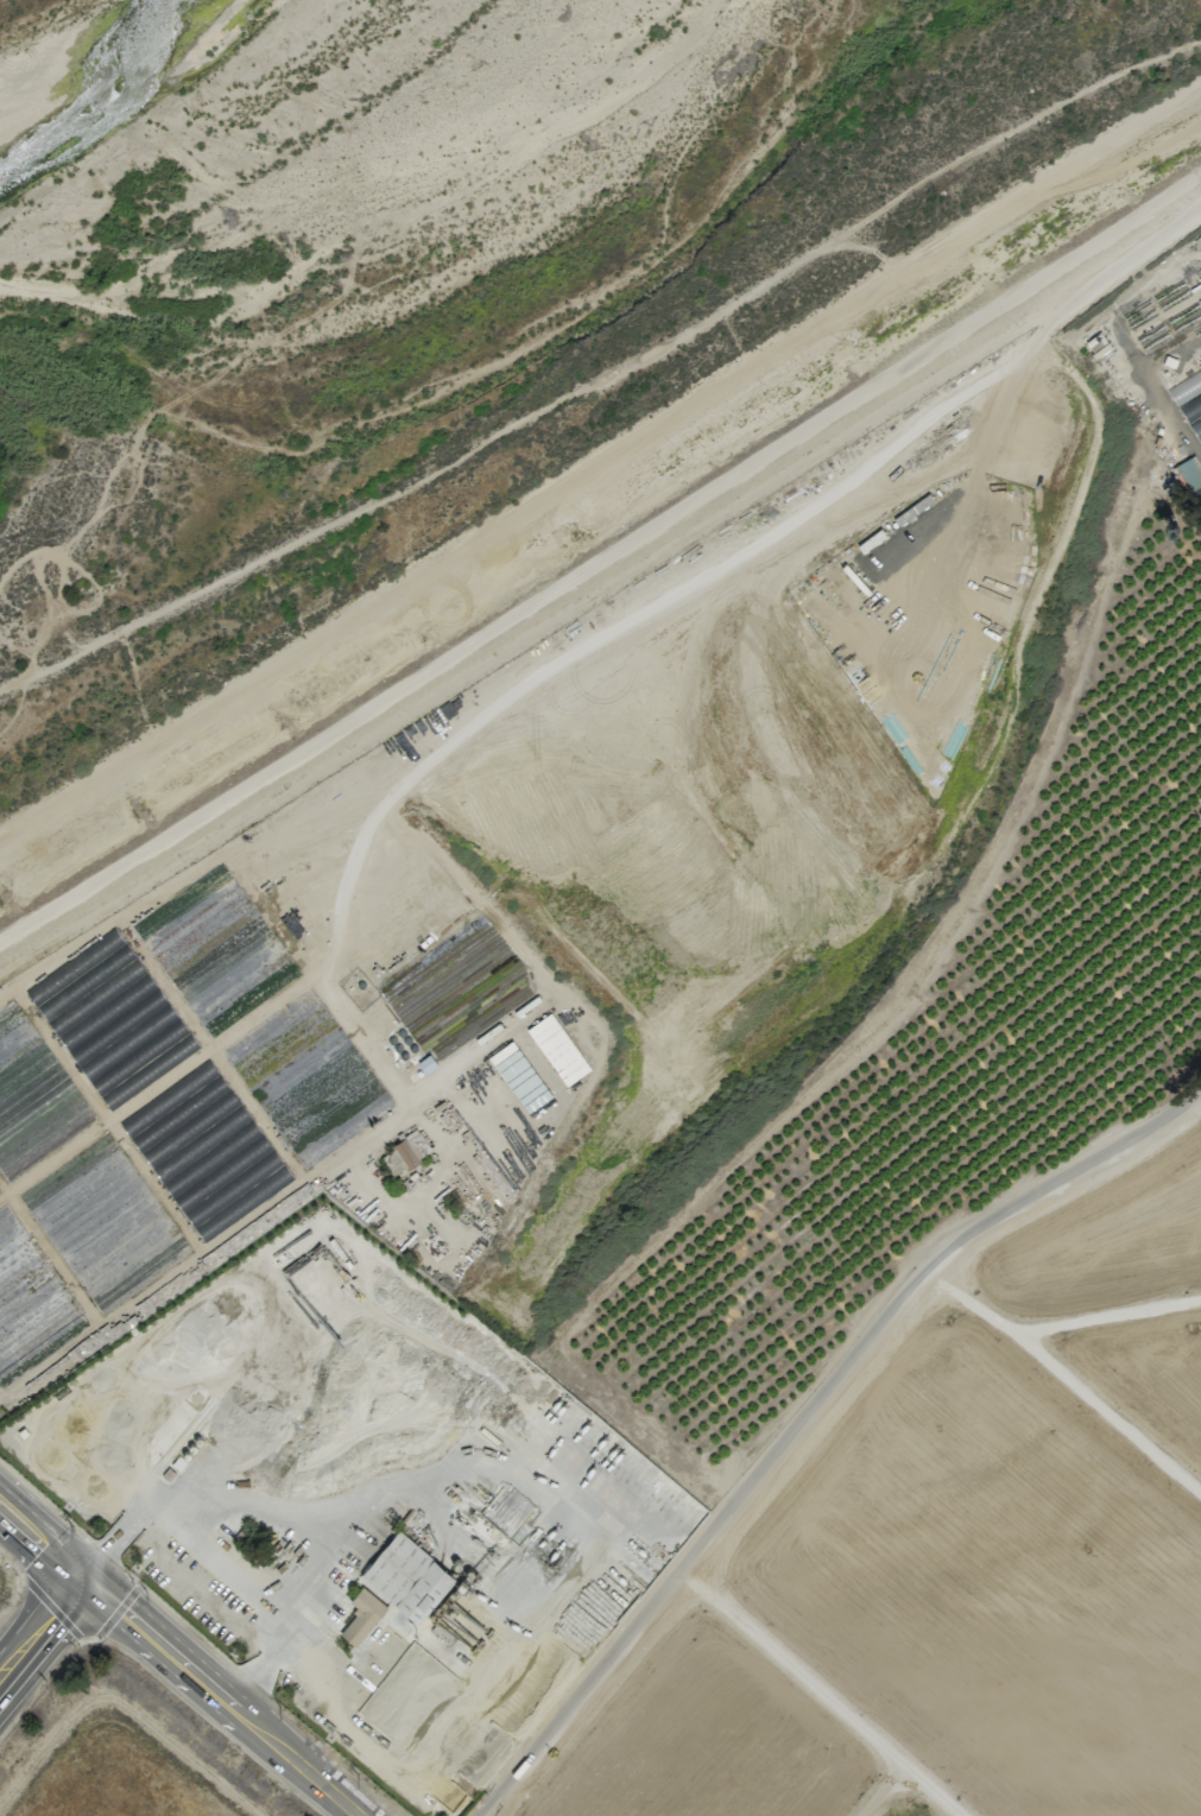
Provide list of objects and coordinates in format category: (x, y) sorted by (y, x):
crop: (1187, 391)
road: (590, 467)
building: (1189, 473)
road: (600, 561)
building: (557, 1048)
building: (522, 1082)
building: (411, 1147)
road: (808, 1416)
road: (126, 1535)
road: (42, 1546)
building: (407, 1575)
traffic signals: (84, 1584)
building: (361, 1615)
road: (42, 1637)
road: (277, 1651)
road: (221, 1700)
crop: (125, 1755)

